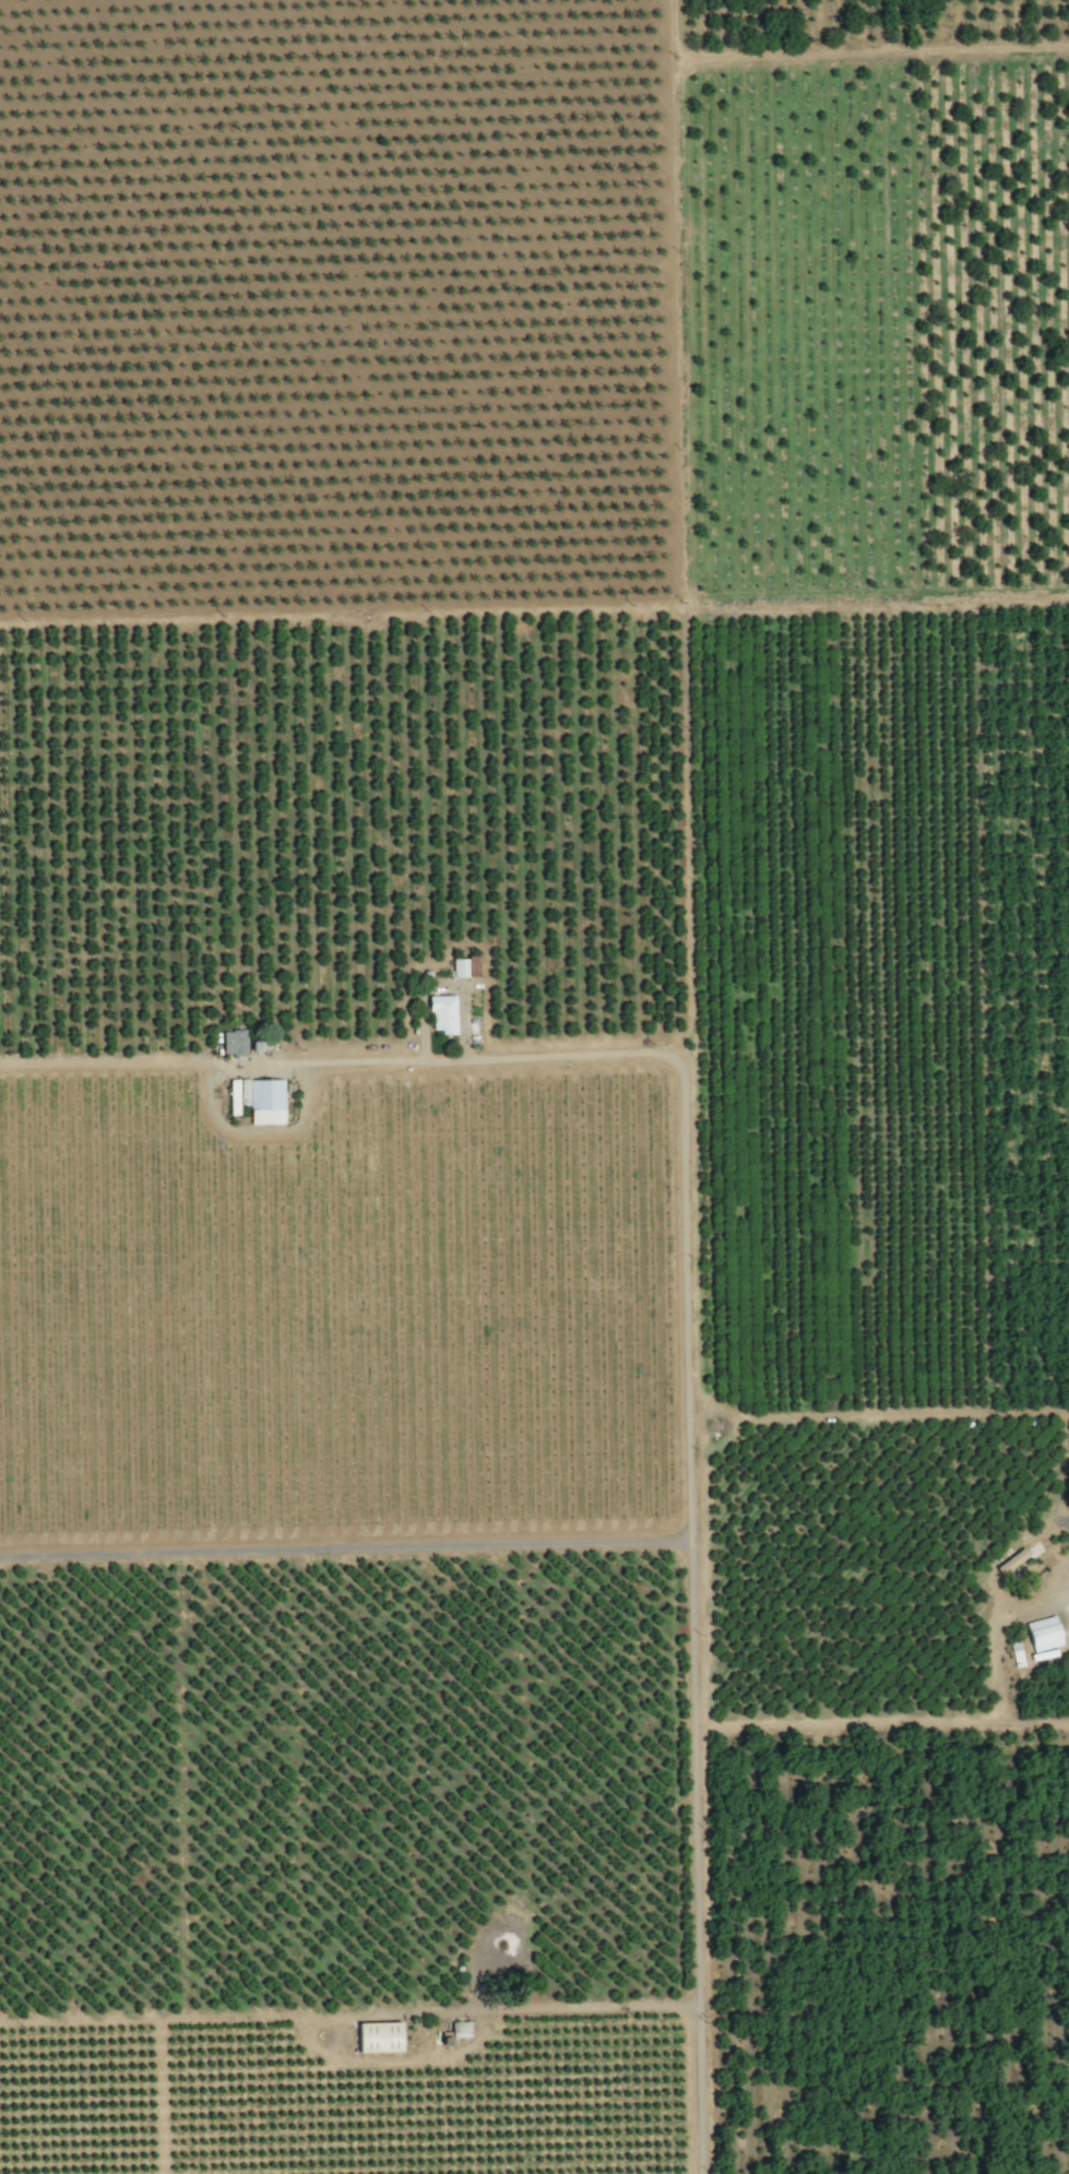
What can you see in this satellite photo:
building: (464, 966)
building: (441, 1012)
building: (233, 1042)
road: (470, 1058)
building: (236, 1093)
building: (265, 1101)
road: (701, 1620)
building: (1043, 1634)
road: (579, 2007)
building: (459, 2028)
building: (377, 2035)

